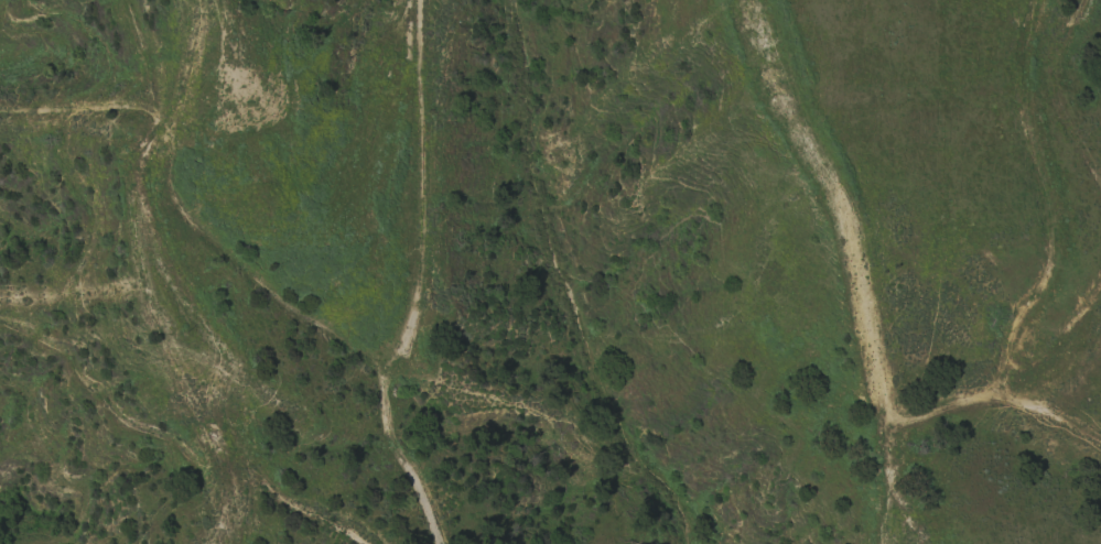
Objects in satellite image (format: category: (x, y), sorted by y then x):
road: (187, 69)
road: (1053, 417)

